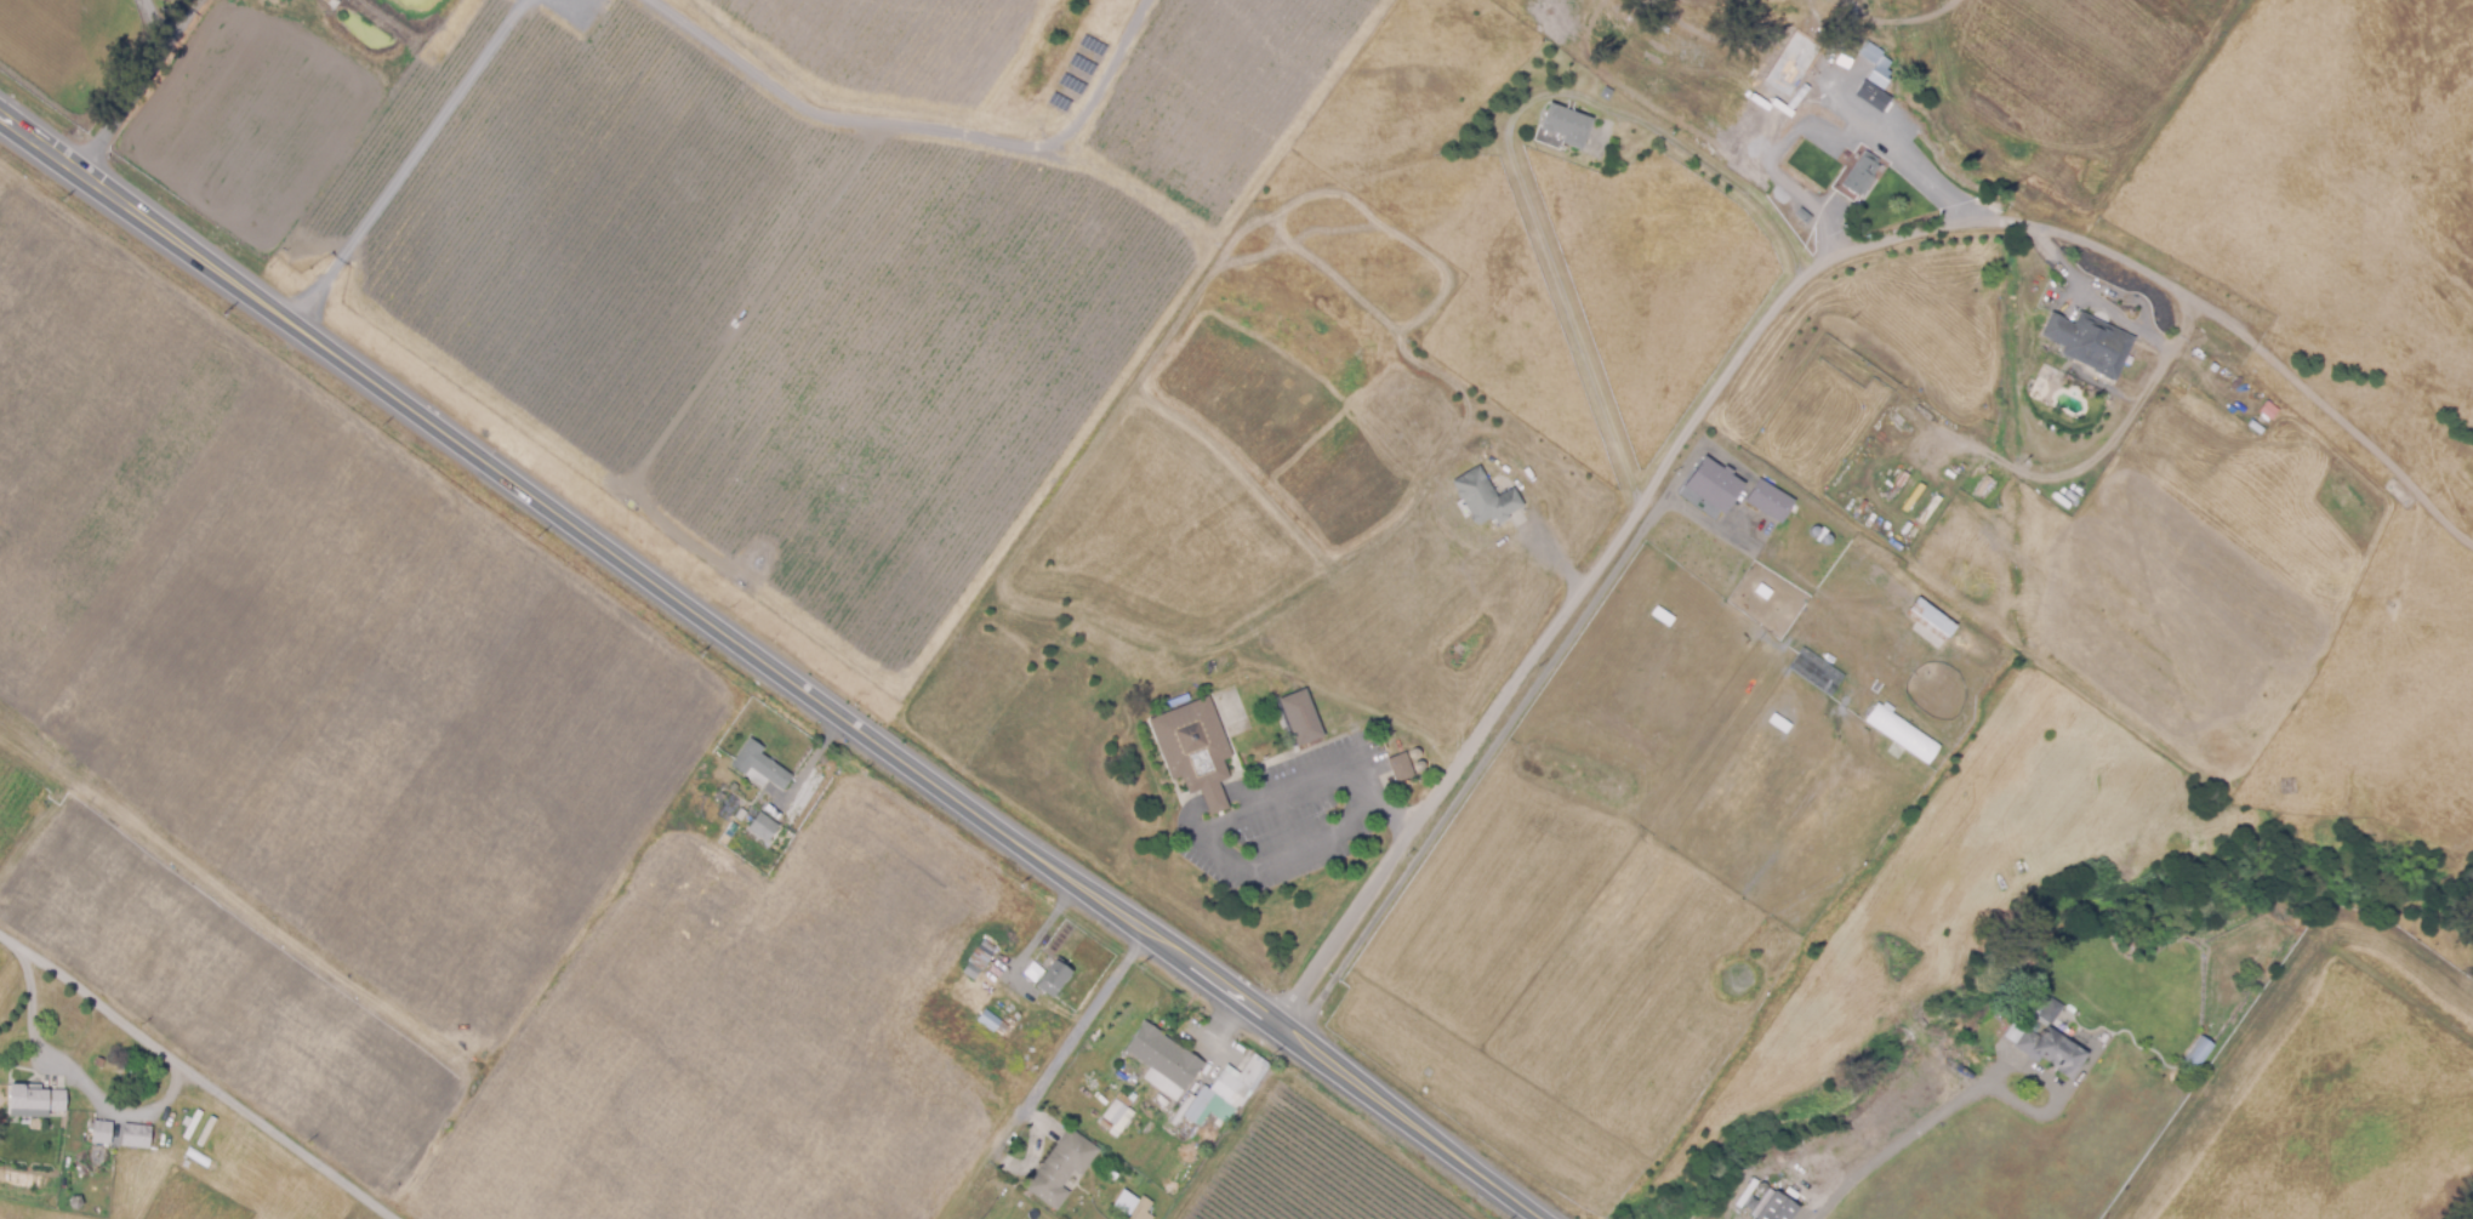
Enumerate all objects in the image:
road: (178, 27)
building: (1824, 57)
building: (1789, 62)
building: (1875, 64)
building: (1871, 65)
road: (133, 87)
building: (1607, 91)
building: (1874, 95)
road: (1852, 113)
building: (1911, 120)
building: (1567, 124)
building: (1754, 130)
building: (1901, 131)
road: (1511, 136)
building: (1765, 138)
road: (408, 161)
building: (1864, 172)
road: (1780, 178)
building: (1805, 213)
road: (2097, 296)
building: (2089, 342)
building: (2258, 420)
road: (2321, 421)
road: (2102, 452)
building: (1715, 484)
road: (1653, 489)
building: (1487, 496)
building: (1777, 509)
building: (1932, 619)
road: (769, 666)
building: (1232, 706)
building: (1299, 719)
building: (1903, 733)
building: (1381, 741)
building: (1196, 748)
building: (762, 765)
building: (1402, 765)
building: (720, 796)
building: (742, 814)
road: (1223, 821)
building: (764, 825)
building: (984, 952)
building: (973, 970)
building: (1055, 978)
building: (2051, 1009)
building: (991, 1019)
road: (36, 1042)
building: (2052, 1049)
building: (2199, 1052)
building: (1166, 1058)
building: (101, 1061)
building: (1033, 1069)
building: (2189, 1072)
road: (196, 1075)
road: (1039, 1086)
building: (1226, 1093)
building: (1133, 1096)
building: (35, 1100)
building: (1116, 1111)
road: (127, 1115)
building: (103, 1130)
building: (137, 1135)
building: (1, 1139)
road: (1904, 1139)
building: (1062, 1167)
building: (40, 1183)
building: (50, 1192)
building: (1777, 1207)
building: (1143, 1208)

